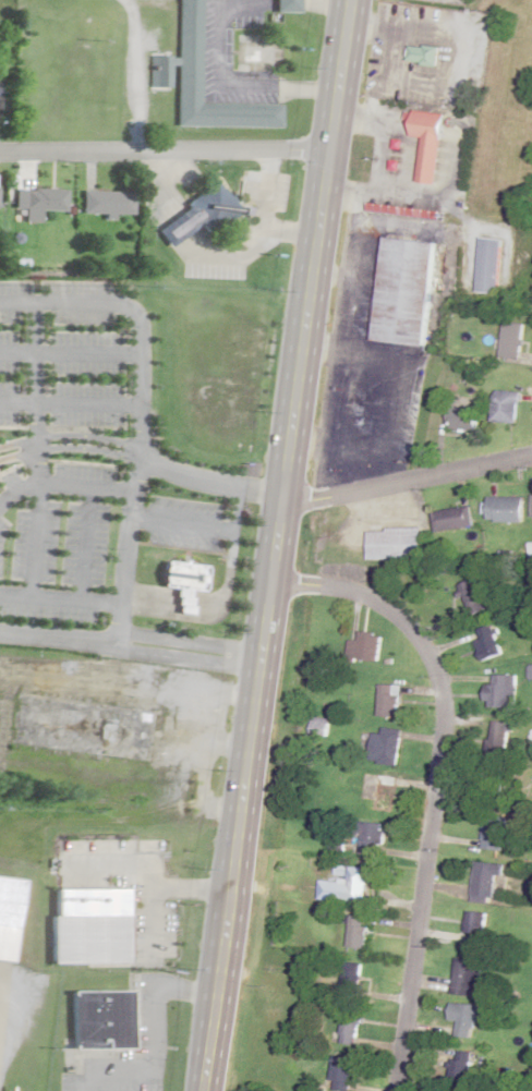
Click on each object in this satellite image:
road: (289, 0)
road: (325, 1)
building: (288, 5)
building: (194, 53)
building: (422, 54)
road: (232, 89)
building: (427, 144)
road: (166, 153)
building: (43, 199)
building: (104, 203)
building: (202, 216)
road: (262, 220)
road: (190, 239)
building: (485, 266)
building: (402, 292)
road: (137, 316)
building: (511, 340)
road: (70, 352)
road: (34, 353)
road: (16, 402)
road: (86, 404)
building: (505, 407)
building: (461, 419)
road: (88, 435)
road: (15, 439)
road: (33, 444)
road: (85, 447)
road: (15, 453)
road: (409, 475)
road: (210, 483)
road: (64, 485)
building: (531, 504)
building: (505, 508)
building: (451, 518)
road: (202, 525)
road: (37, 541)
building: (392, 543)
road: (86, 544)
road: (279, 545)
building: (188, 577)
building: (472, 596)
road: (61, 598)
road: (122, 608)
road: (210, 611)
road: (120, 639)
building: (486, 642)
building: (366, 645)
building: (499, 691)
building: (386, 699)
building: (498, 738)
building: (383, 747)
road: (434, 784)
building: (380, 793)
building: (491, 832)
building: (368, 836)
road: (125, 861)
building: (483, 883)
building: (343, 887)
road: (194, 888)
building: (8, 916)
road: (155, 922)
building: (95, 925)
building: (354, 931)
building: (464, 977)
building: (349, 978)
building: (461, 1018)
building: (105, 1019)
building: (348, 1027)
road: (154, 1040)
building: (458, 1067)
building: (340, 1071)

